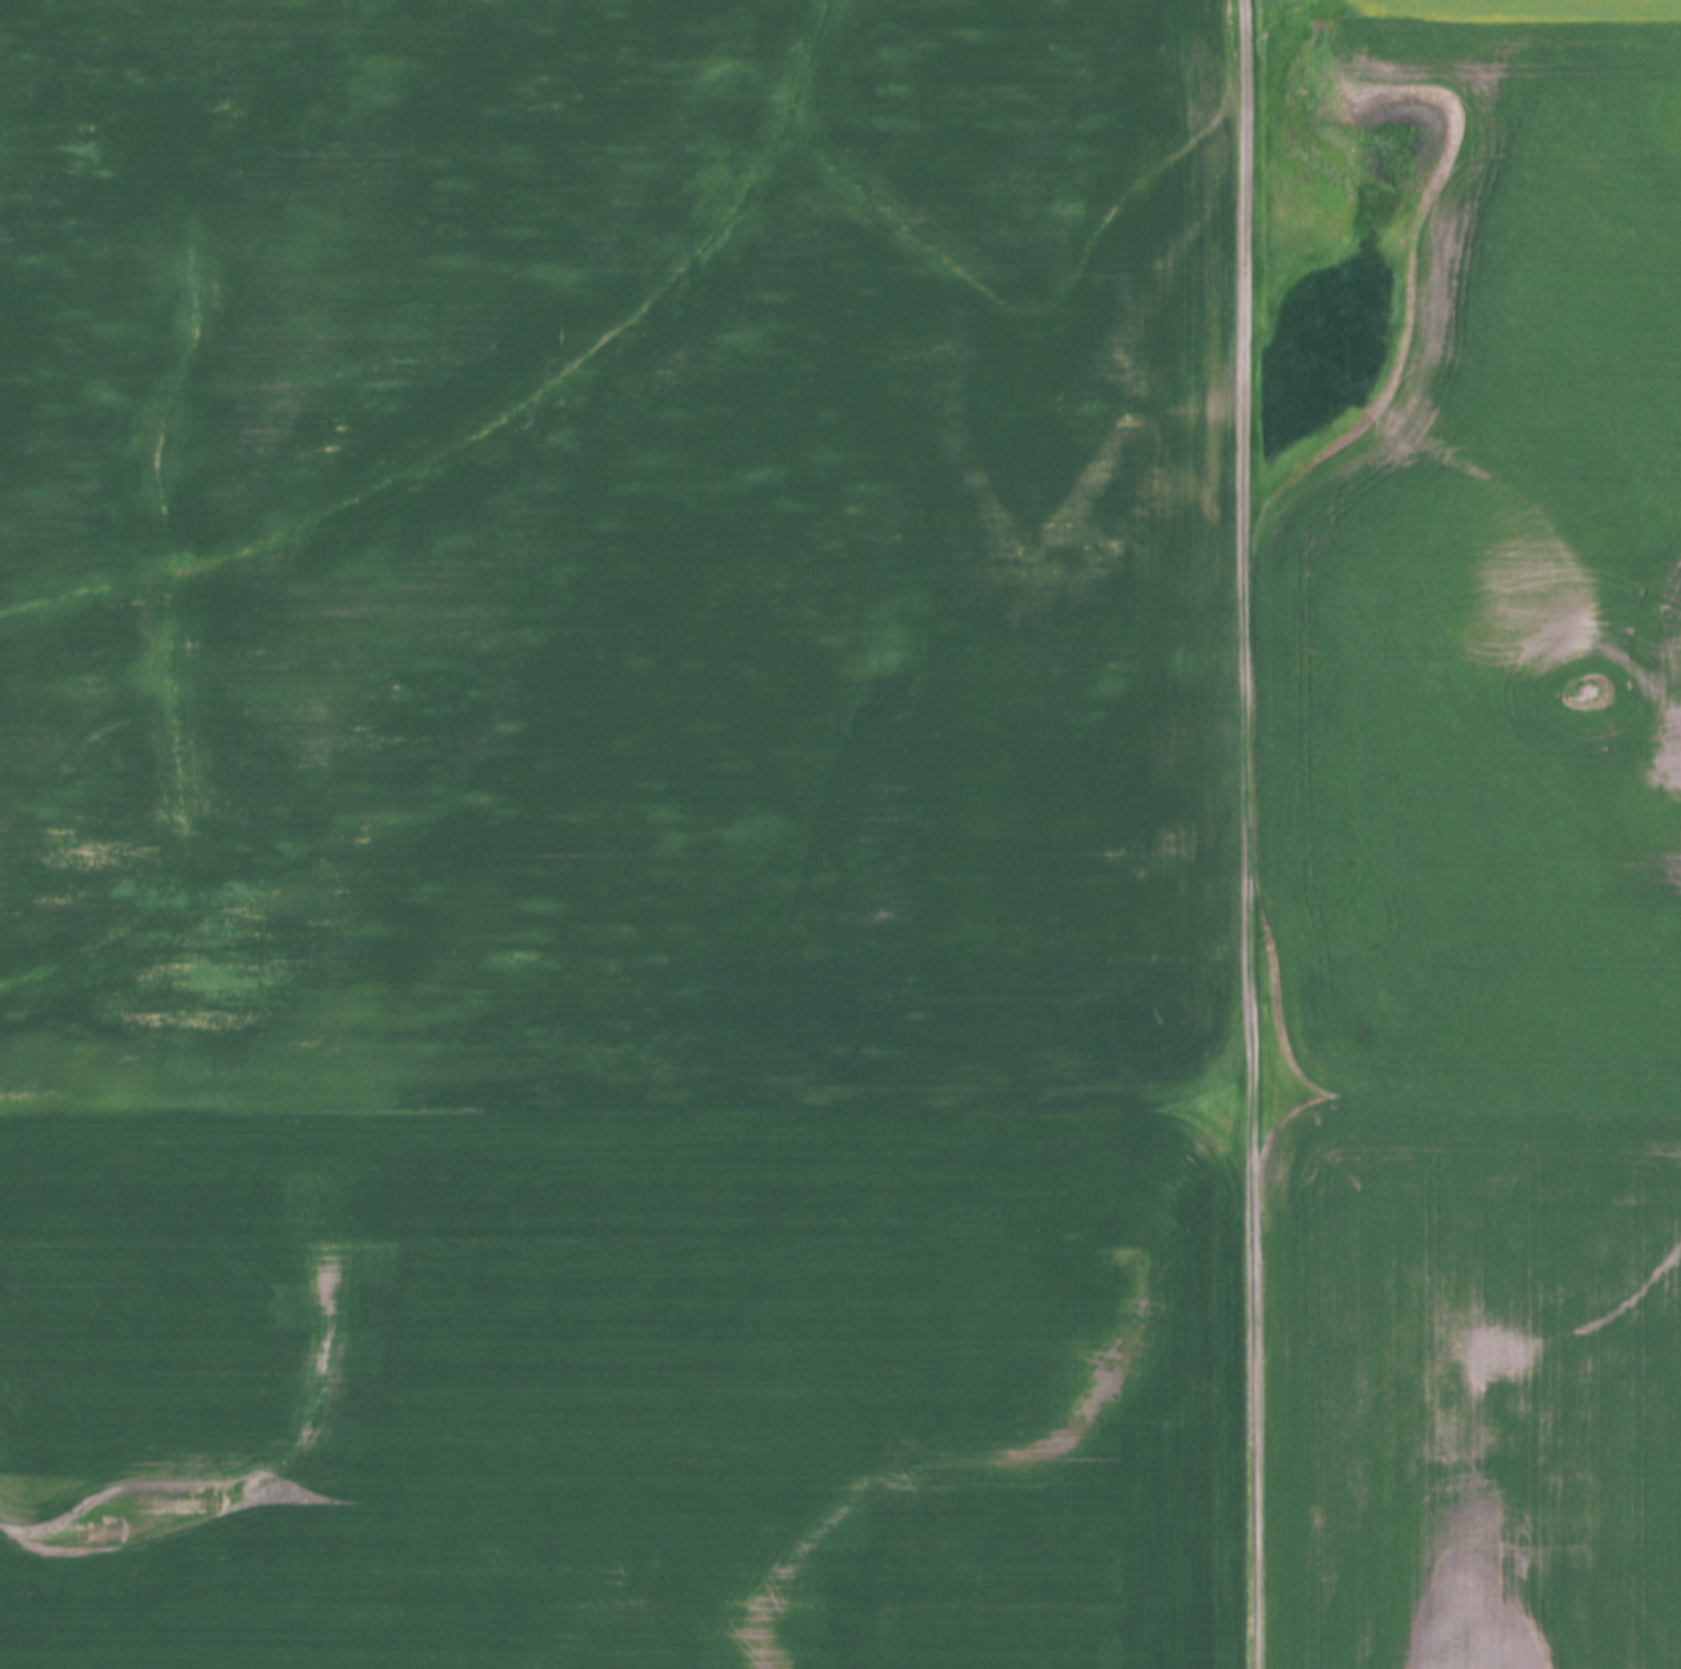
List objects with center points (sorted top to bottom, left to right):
road: (1254, 834)

